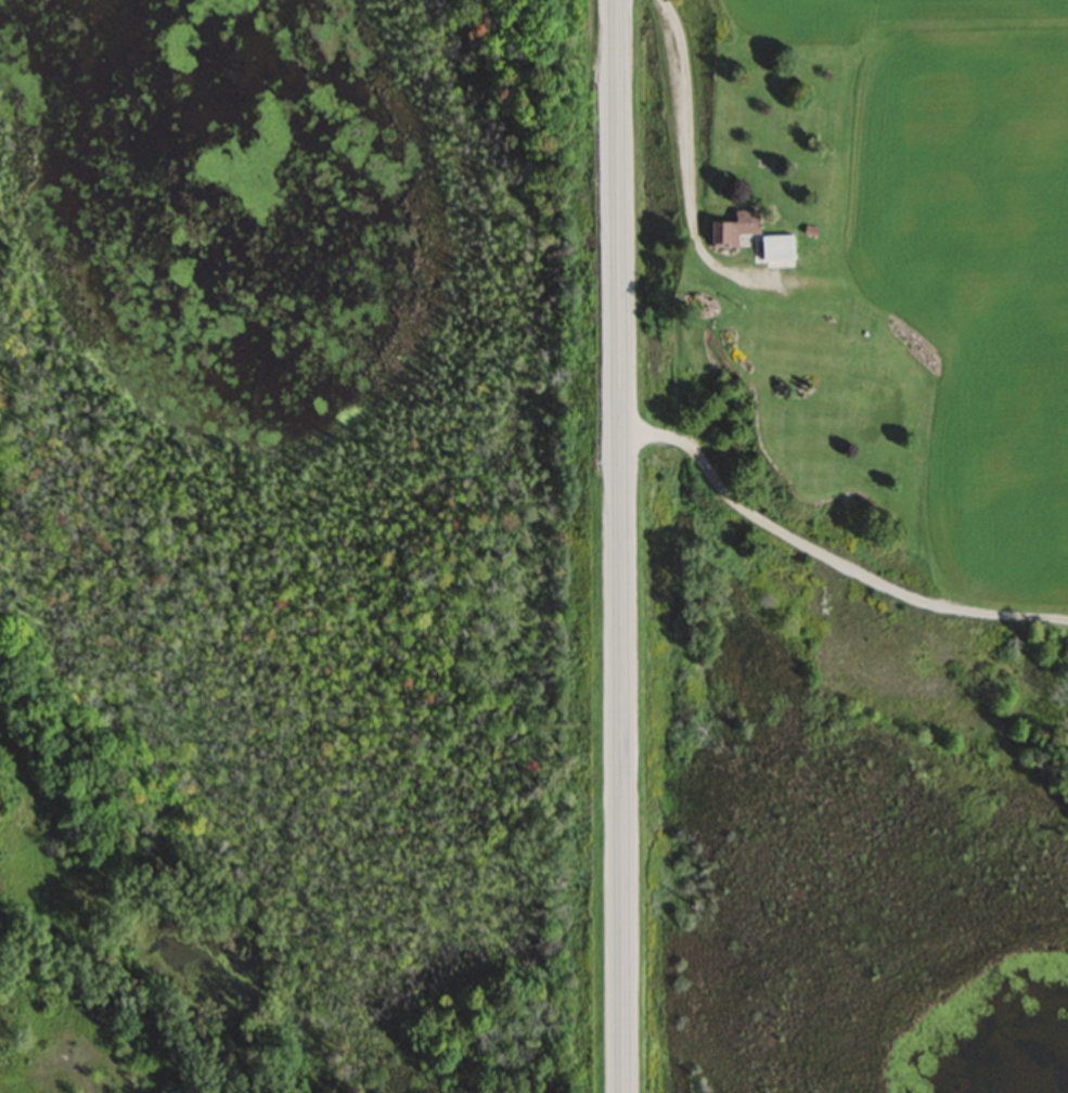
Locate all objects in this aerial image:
building: (732, 228)
building: (775, 246)
road: (616, 545)

